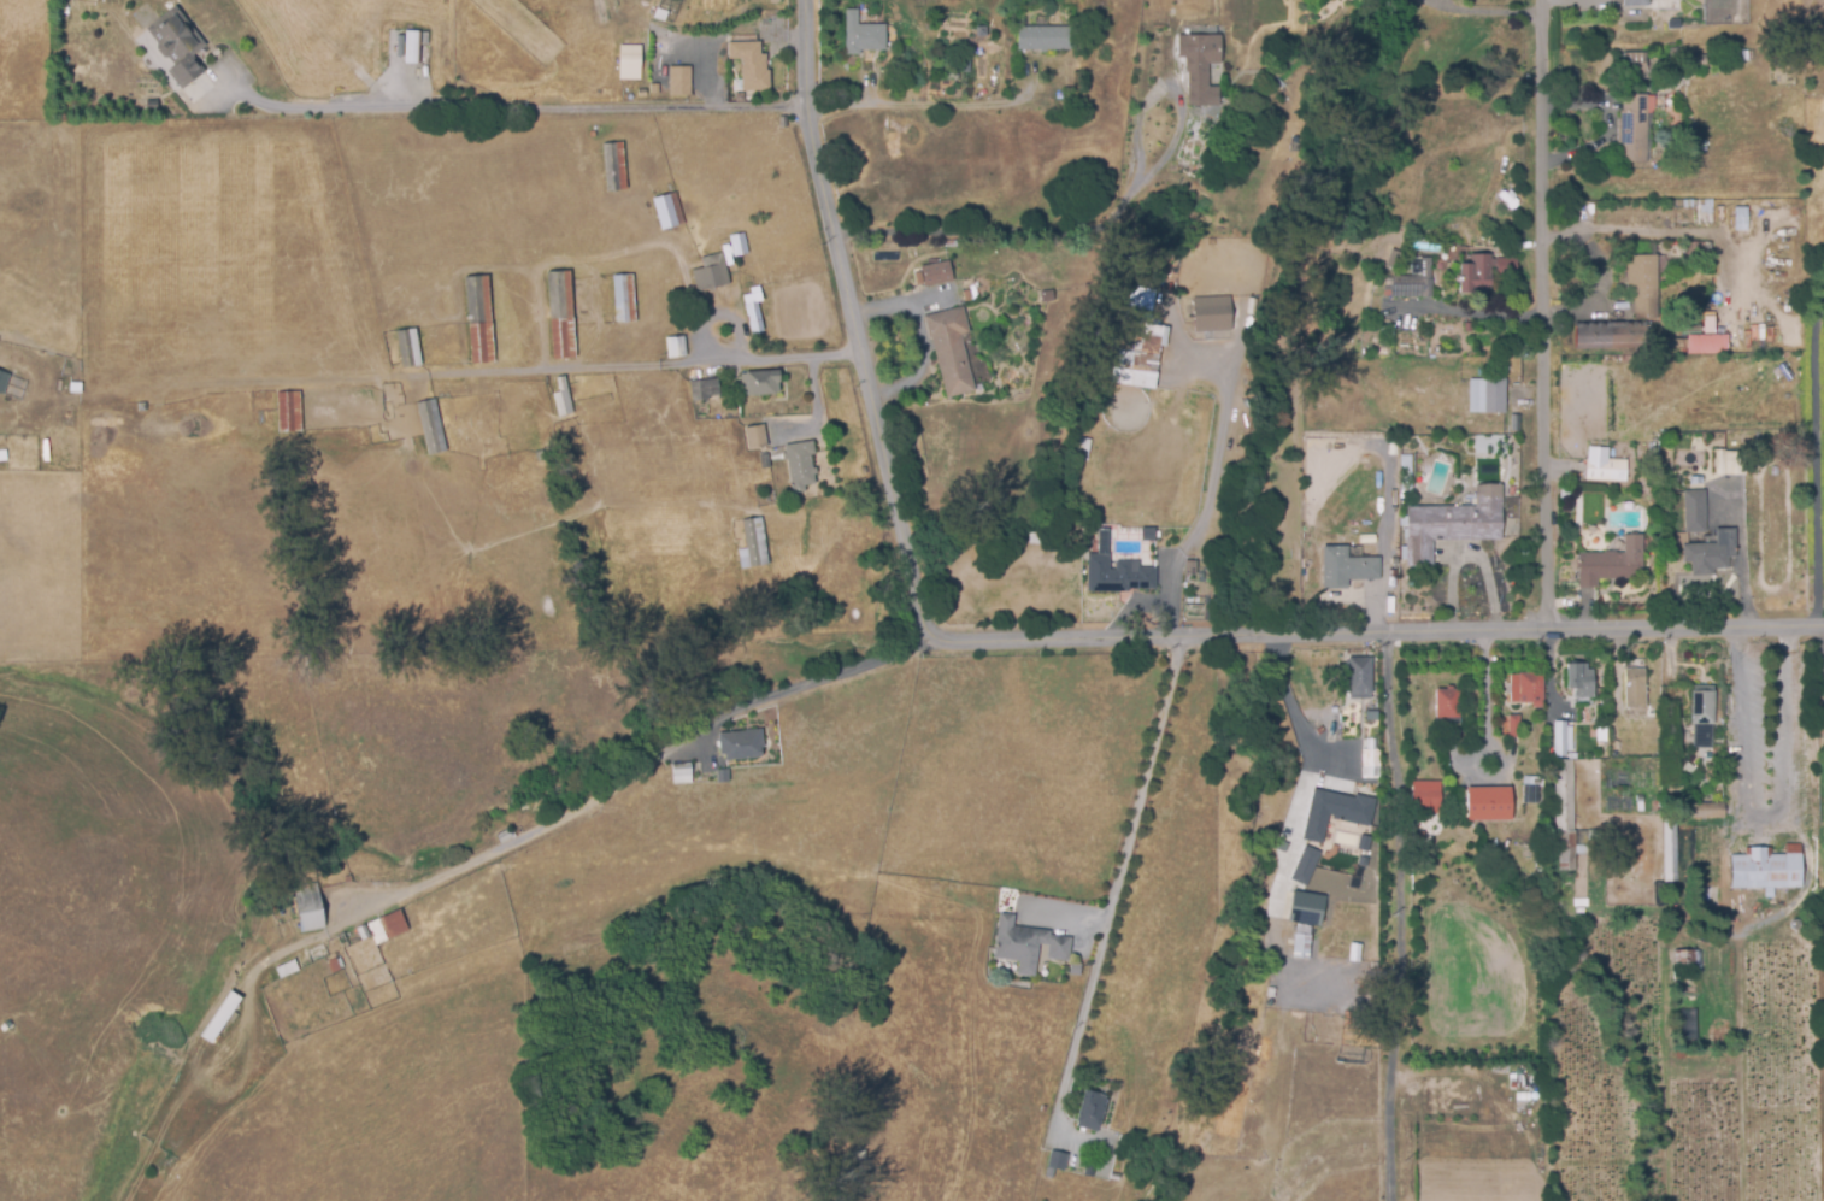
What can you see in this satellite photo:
building: (1636, 1)
road: (1485, 10)
building: (864, 33)
building: (1045, 36)
building: (410, 46)
building: (177, 52)
building: (1675, 53)
building: (1700, 58)
building: (1636, 60)
building: (629, 63)
building: (748, 64)
building: (1201, 65)
building: (681, 78)
building: (640, 90)
road: (511, 104)
road: (932, 104)
building: (1637, 124)
building: (616, 165)
building: (670, 208)
road: (896, 236)
building: (739, 243)
building: (1508, 263)
building: (711, 271)
building: (939, 271)
building: (1477, 271)
building: (1417, 278)
road: (1823, 279)
road: (1823, 282)
building: (1644, 283)
building: (1048, 294)
building: (625, 298)
building: (1141, 302)
building: (755, 308)
building: (1212, 312)
road: (1472, 312)
building: (561, 313)
road: (1543, 313)
building: (481, 318)
road: (857, 318)
building: (1611, 332)
building: (1708, 342)
building: (677, 346)
building: (410, 347)
building: (952, 348)
road: (763, 359)
building: (1140, 359)
road: (528, 369)
building: (761, 381)
building: (2, 382)
building: (73, 388)
building: (706, 388)
building: (1488, 393)
building: (563, 396)
building: (142, 406)
building: (288, 411)
building: (431, 425)
building: (753, 435)
road: (1814, 453)
building: (541, 457)
building: (765, 459)
building: (802, 464)
building: (1751, 466)
building: (1607, 467)
building: (1775, 470)
building: (1696, 510)
building: (1452, 524)
building: (1683, 536)
building: (754, 542)
building: (1713, 551)
building: (1612, 563)
building: (1348, 566)
building: (1120, 575)
road: (1337, 594)
road: (1381, 630)
building: (1361, 676)
building: (1583, 678)
building: (1534, 687)
building: (1637, 687)
road: (1485, 690)
building: (1607, 701)
road: (1288, 705)
building: (1451, 710)
building: (1582, 711)
building: (1704, 713)
building: (1370, 714)
building: (1822, 722)
building: (1514, 724)
building: (1564, 735)
building: (742, 743)
road: (1475, 758)
building: (1372, 759)
building: (683, 771)
building: (724, 775)
road: (628, 782)
building: (1424, 797)
building: (1487, 803)
building: (1710, 807)
building: (1334, 812)
building: (1567, 818)
building: (1594, 832)
building: (507, 835)
building: (1363, 843)
building: (1671, 847)
building: (1305, 866)
building: (1769, 867)
road: (1113, 888)
building: (310, 906)
building: (1308, 907)
road: (1399, 914)
building: (388, 926)
building: (364, 930)
building: (1029, 943)
building: (1302, 946)
building: (1688, 958)
building: (337, 962)
building: (1077, 966)
building: (288, 967)
building: (222, 1015)
building: (1093, 1108)
building: (1058, 1160)
building: (1092, 1170)
building: (1117, 1174)

